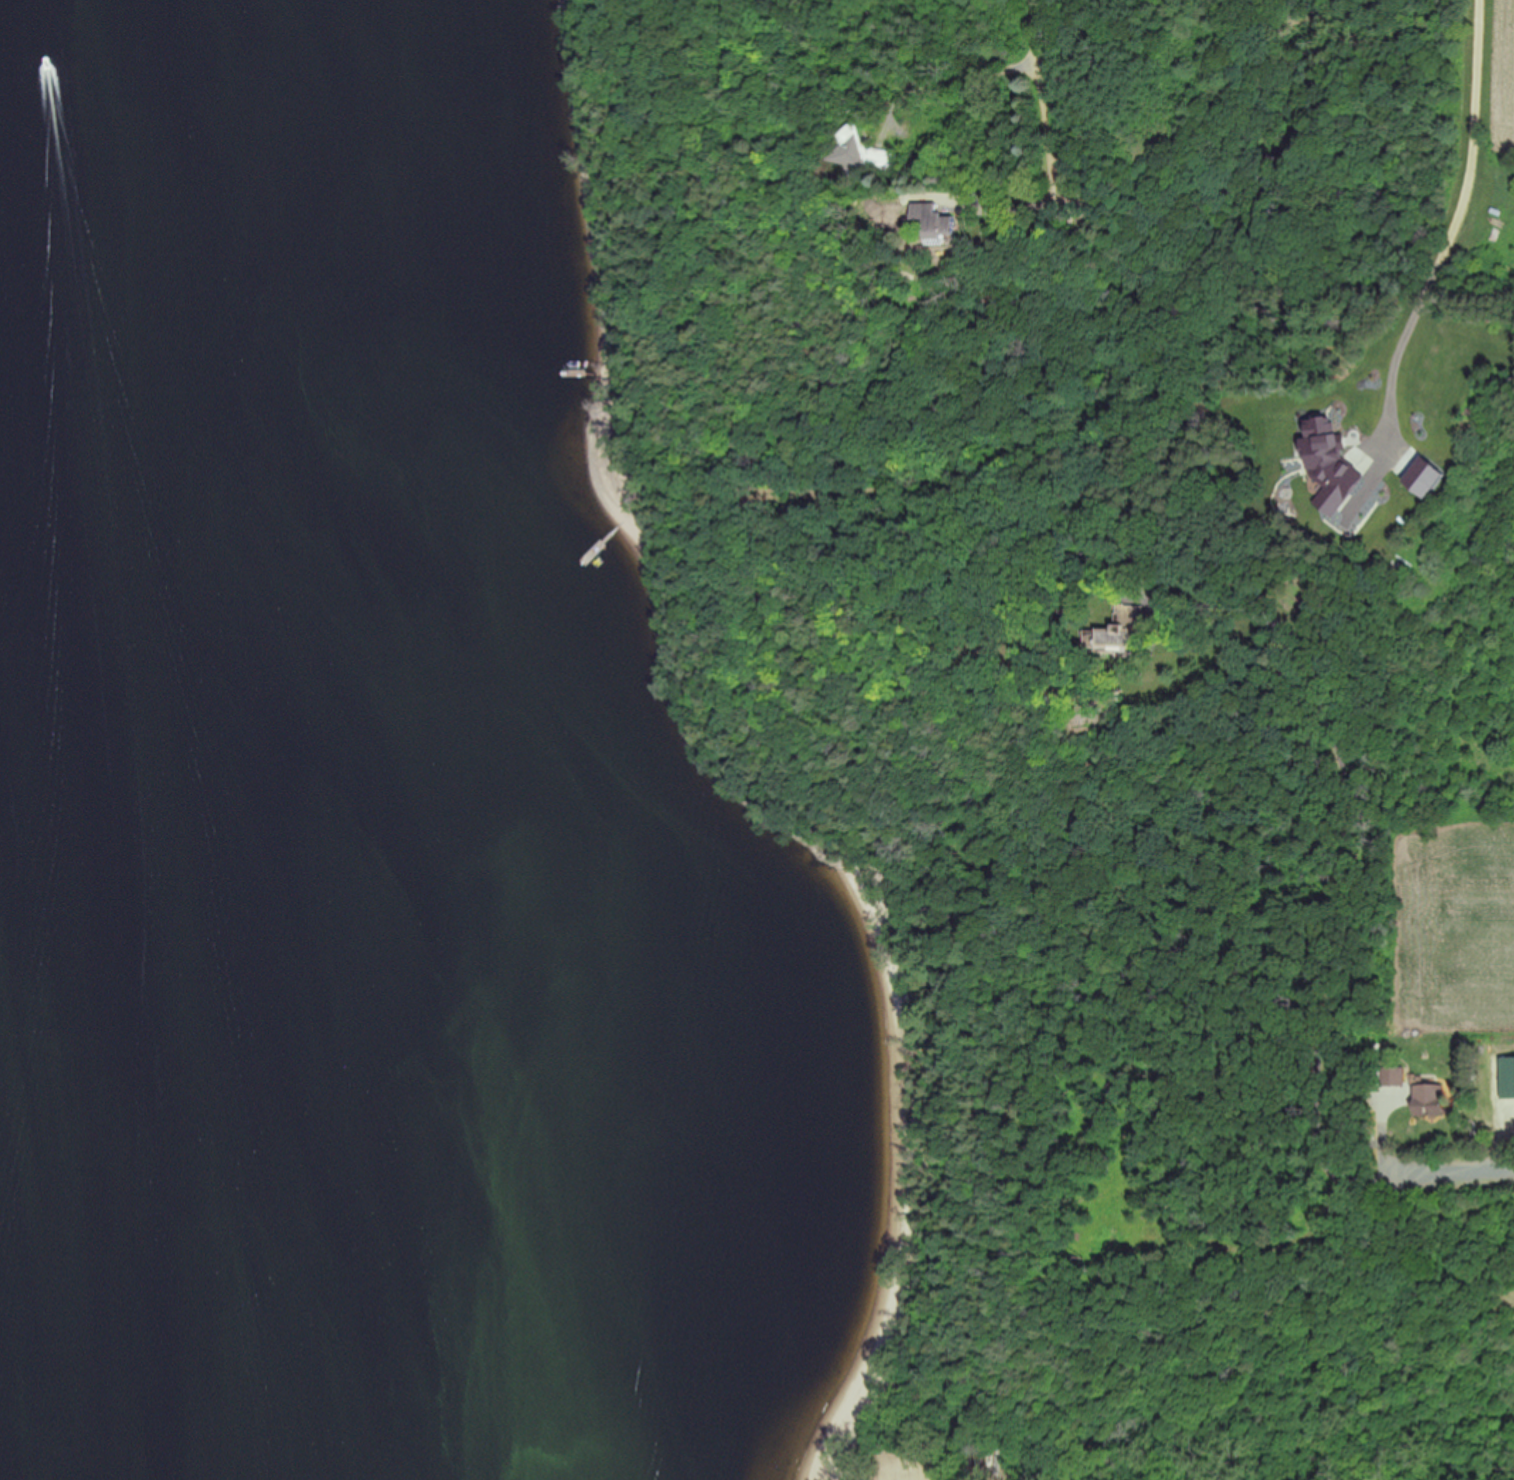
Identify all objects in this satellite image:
road: (1038, 28)
road: (955, 78)
crop: (1476, 145)
building: (860, 147)
road: (1051, 164)
building: (937, 223)
road: (1452, 229)
building: (1127, 628)
river: (116, 741)
crop: (1450, 925)
road: (1463, 1176)

